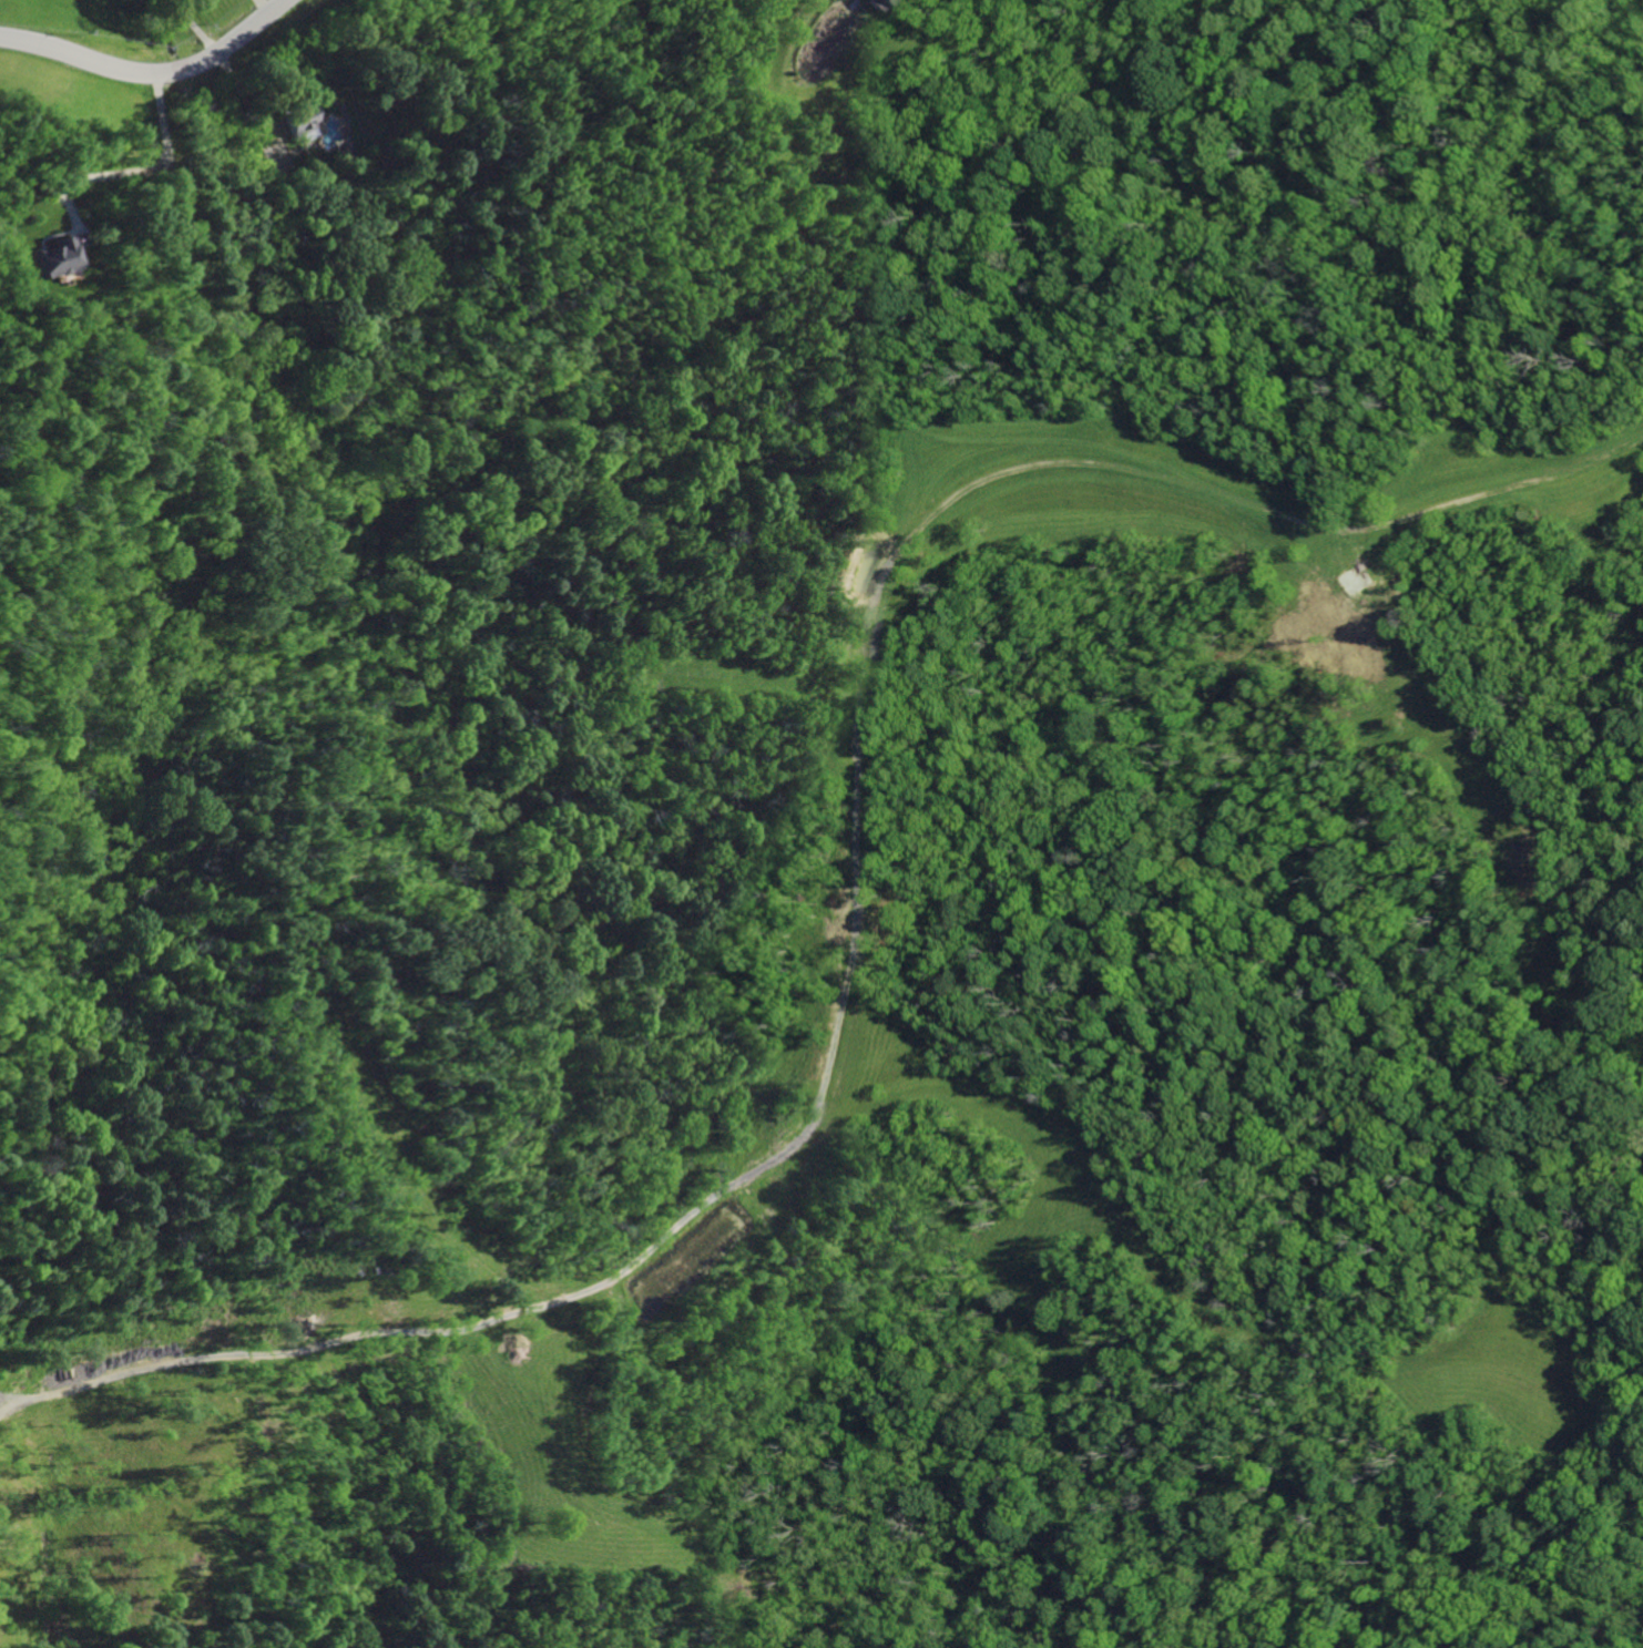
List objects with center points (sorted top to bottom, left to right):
building: (897, 0)
building: (869, 4)
road: (193, 27)
road: (152, 74)
building: (303, 121)
road: (136, 174)
building: (42, 260)

